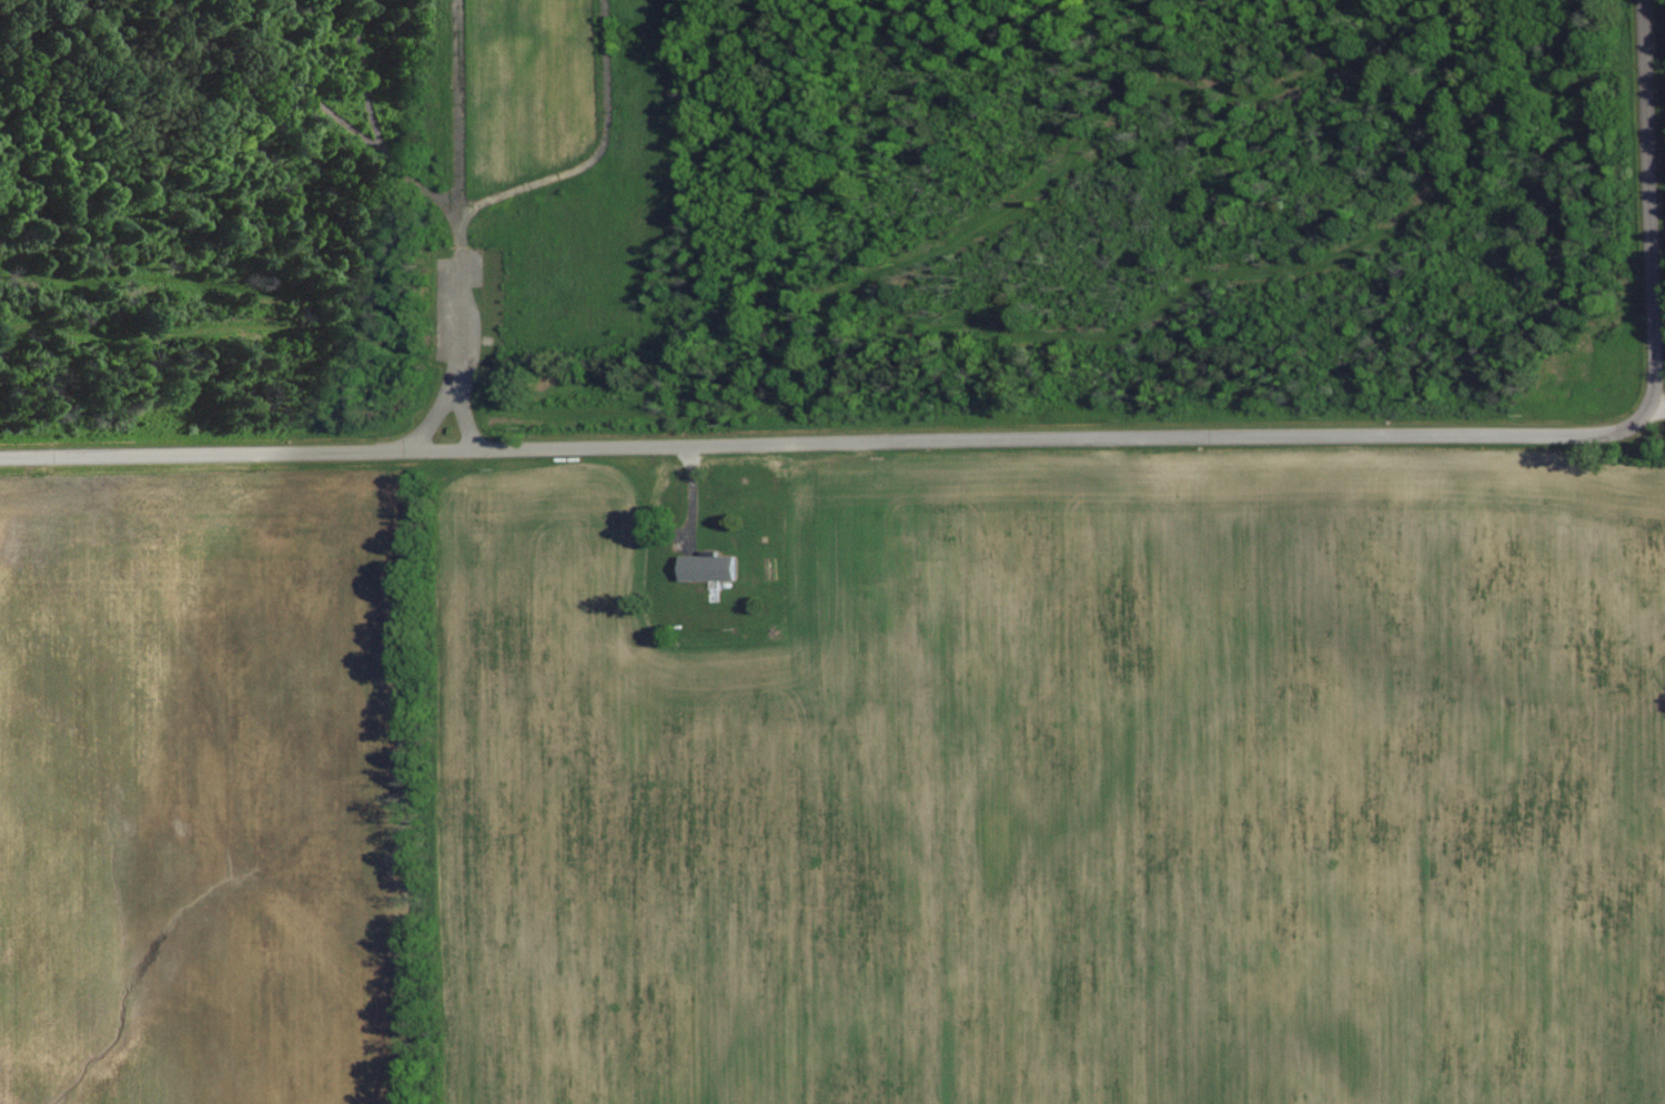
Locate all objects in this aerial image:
road: (1664, 0)
road: (1658, 51)
road: (1571, 77)
road: (1463, 140)
road: (493, 199)
road: (1649, 211)
road: (466, 223)
road: (463, 348)
road: (548, 379)
road: (821, 443)
building: (710, 566)

